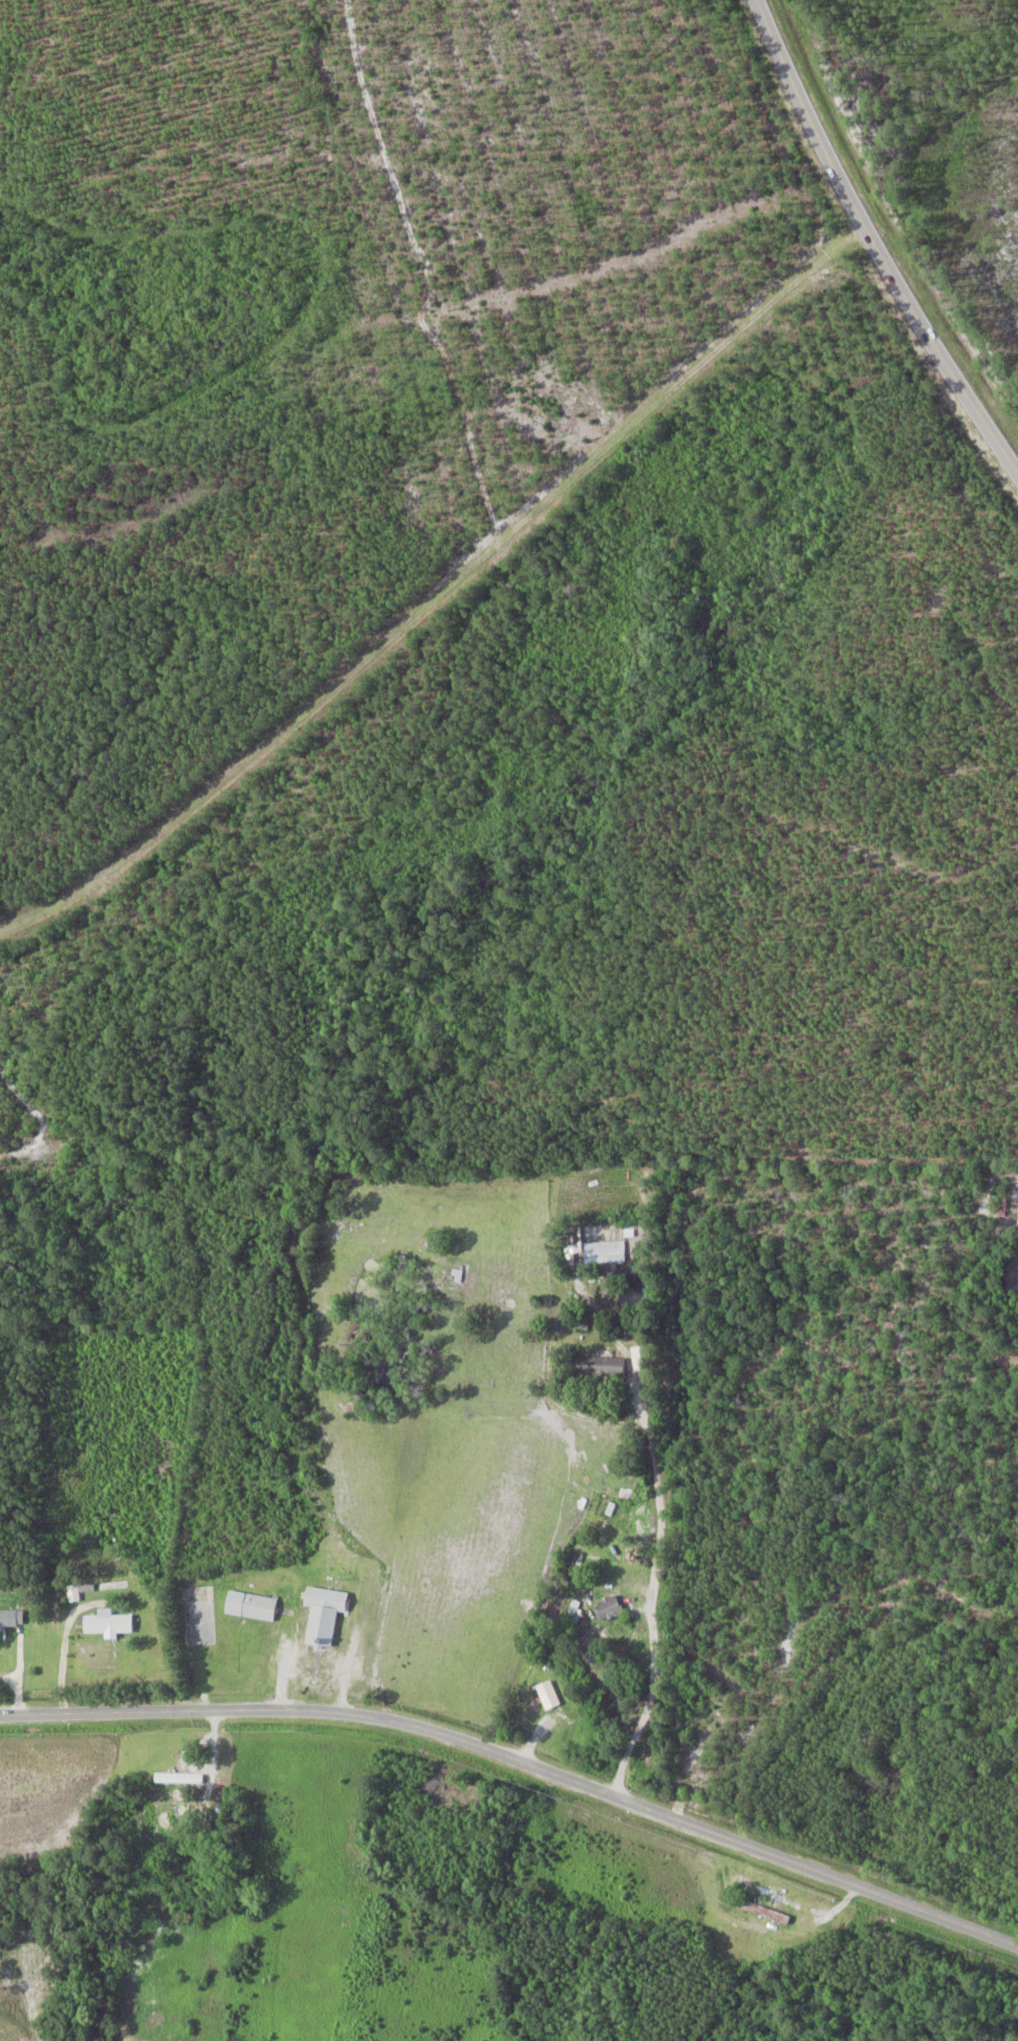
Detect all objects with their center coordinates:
road: (874, 243)
building: (611, 1362)
road: (651, 1590)
building: (252, 1606)
building: (609, 1609)
building: (325, 1615)
building: (12, 1618)
building: (108, 1623)
building: (549, 1695)
road: (521, 1756)
building: (161, 1827)
building: (766, 1911)

